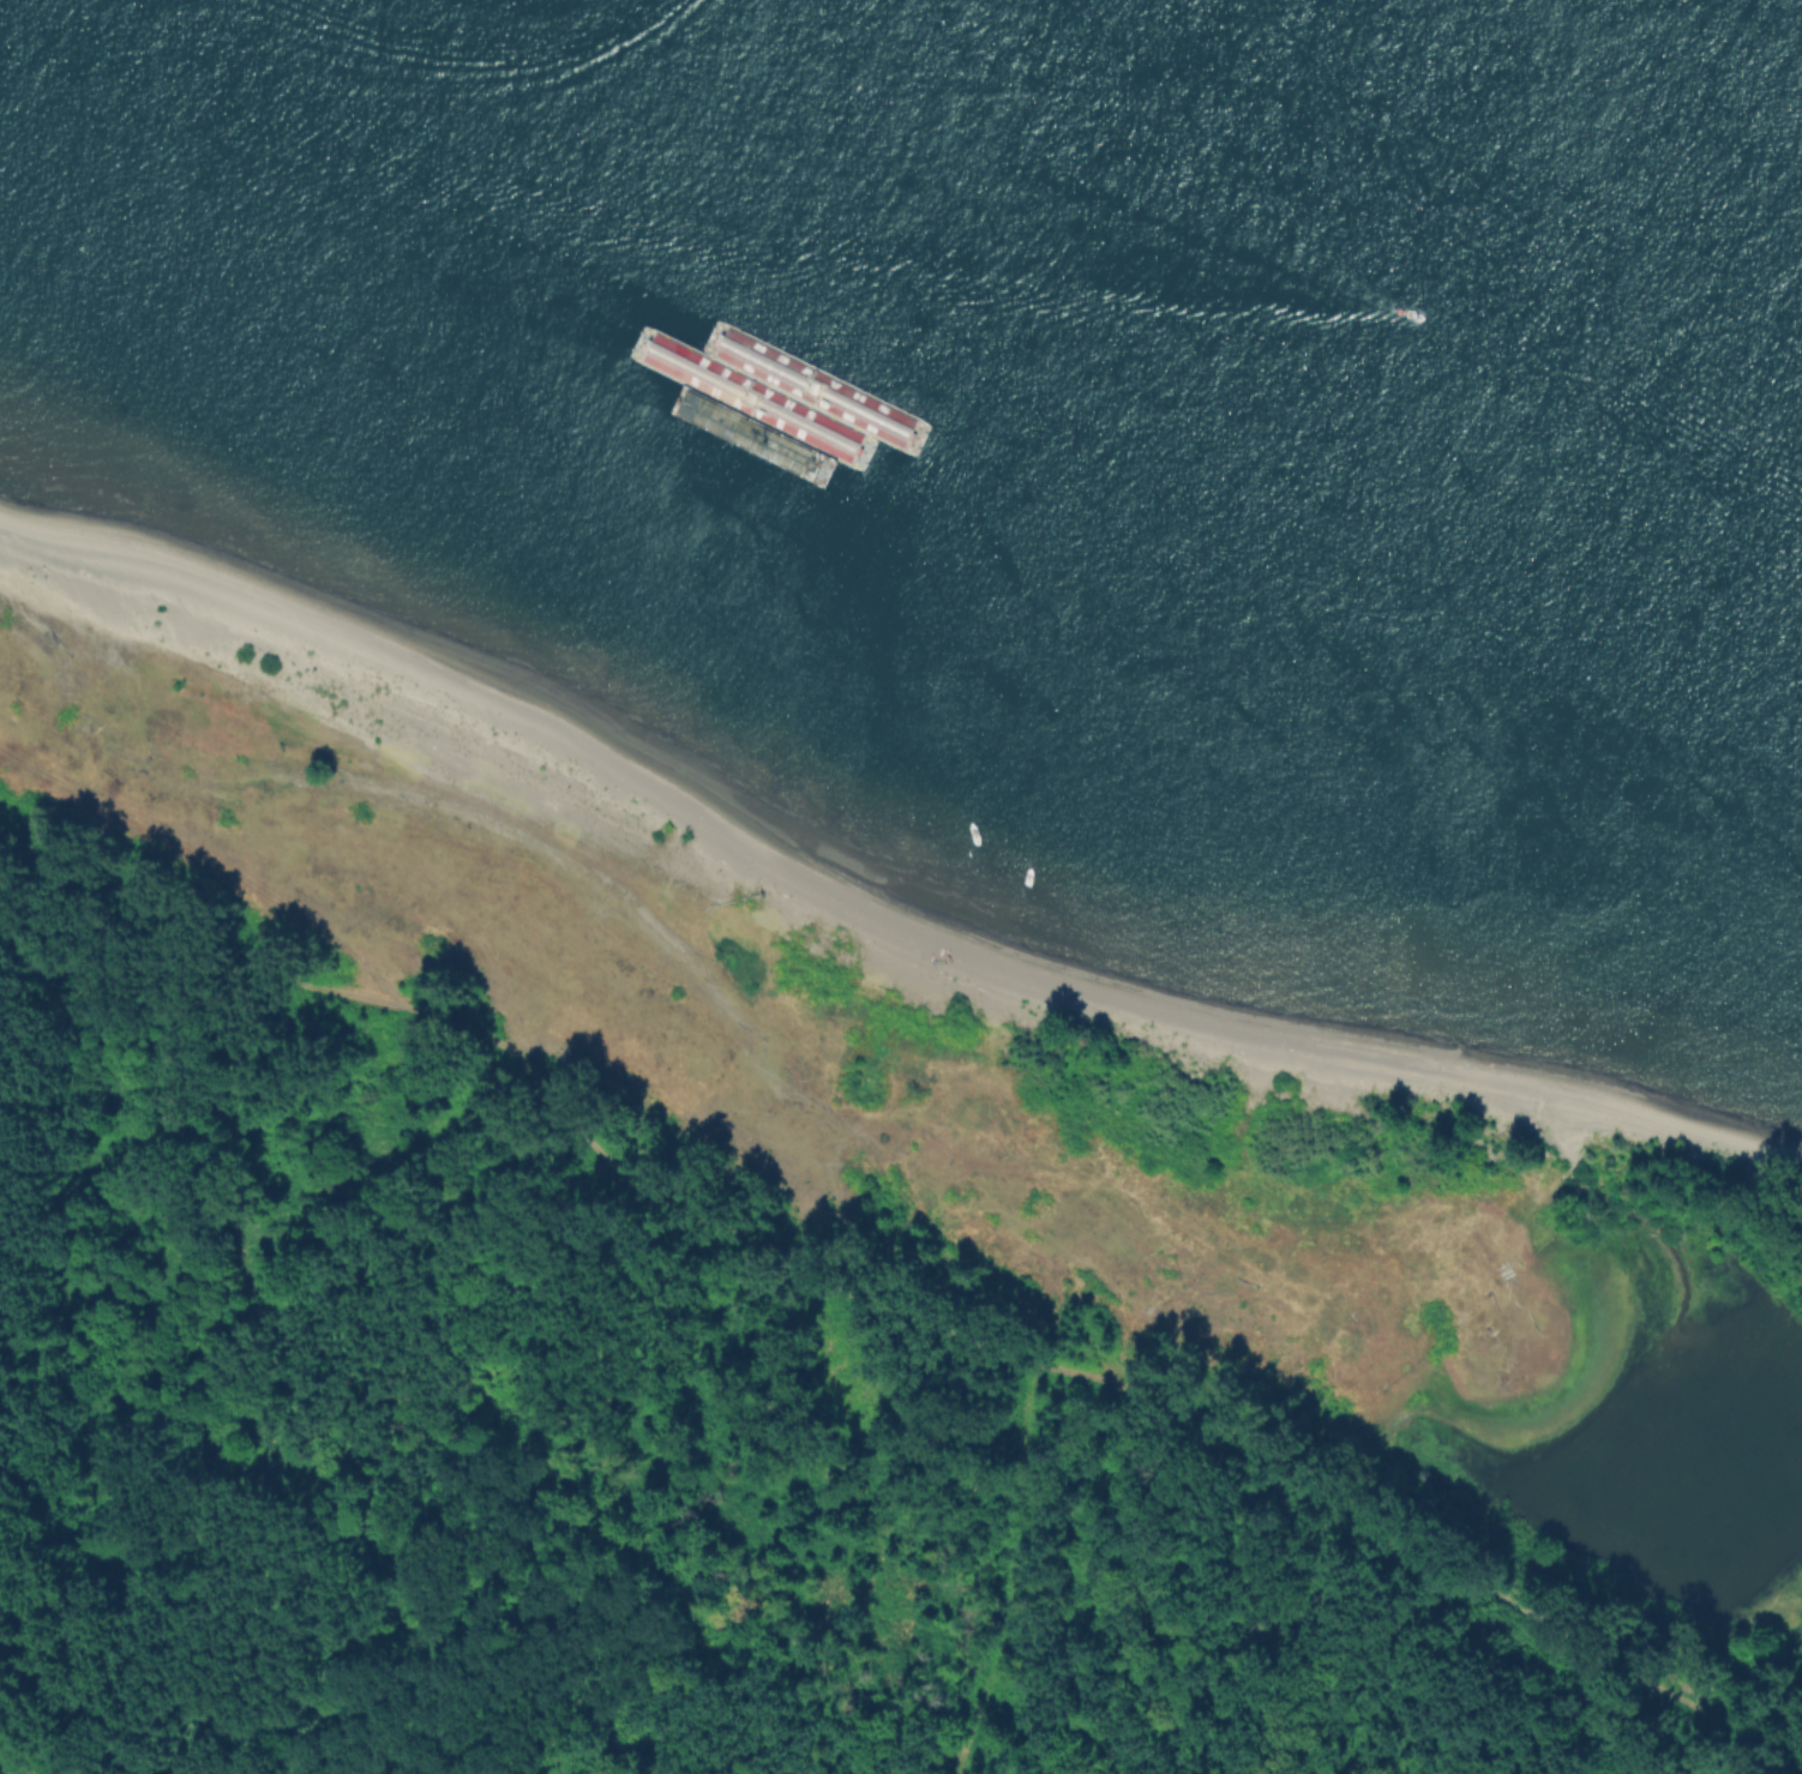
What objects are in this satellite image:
river: (1586, 94)
road: (865, 1298)

